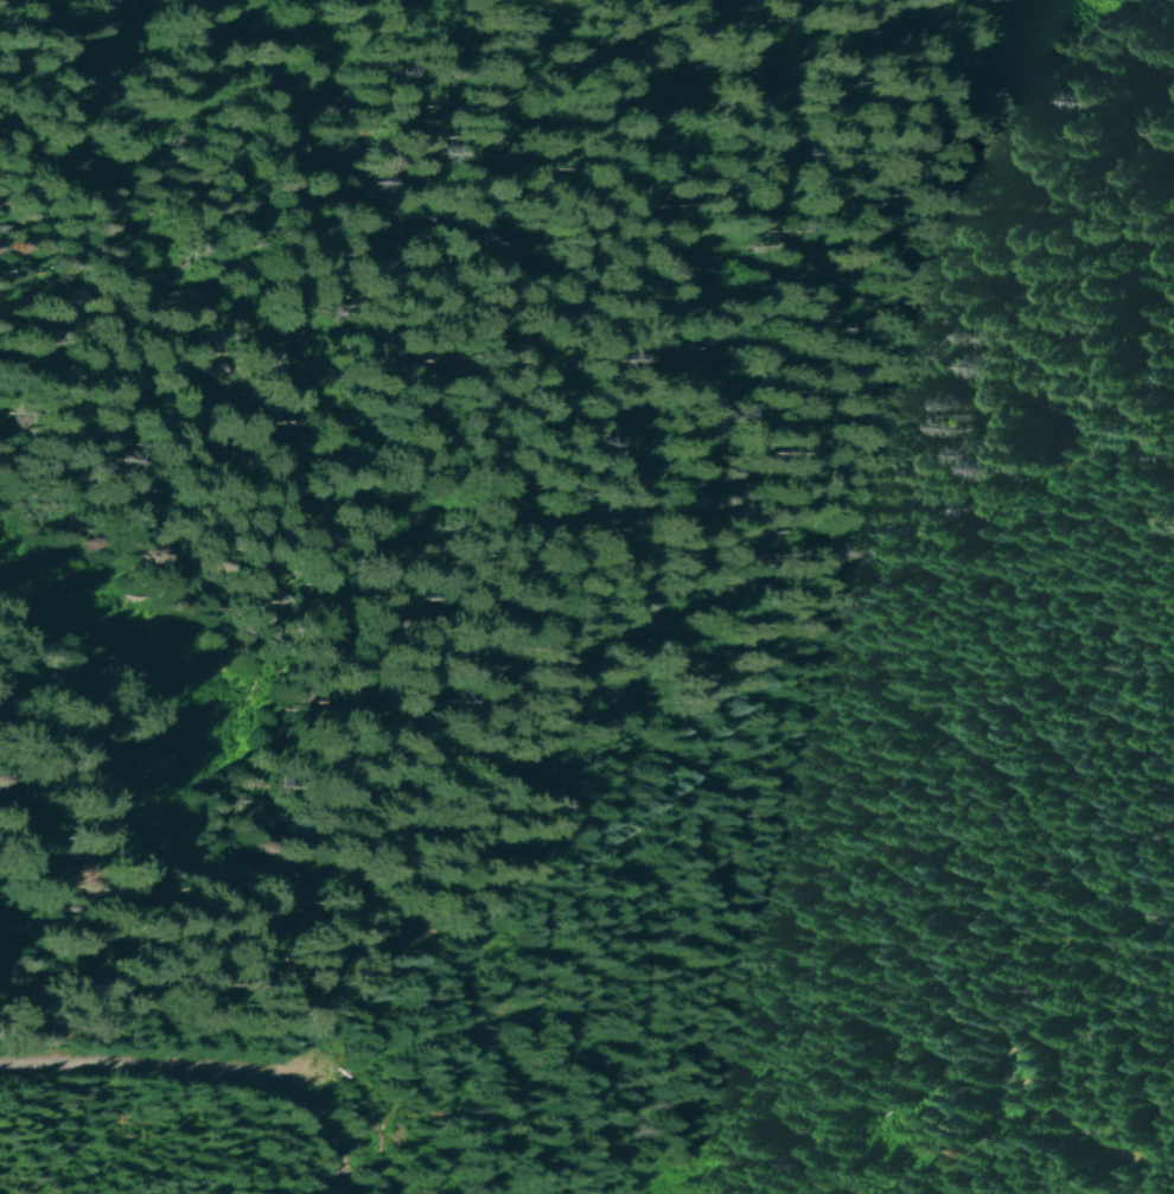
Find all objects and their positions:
road: (198, 1072)

